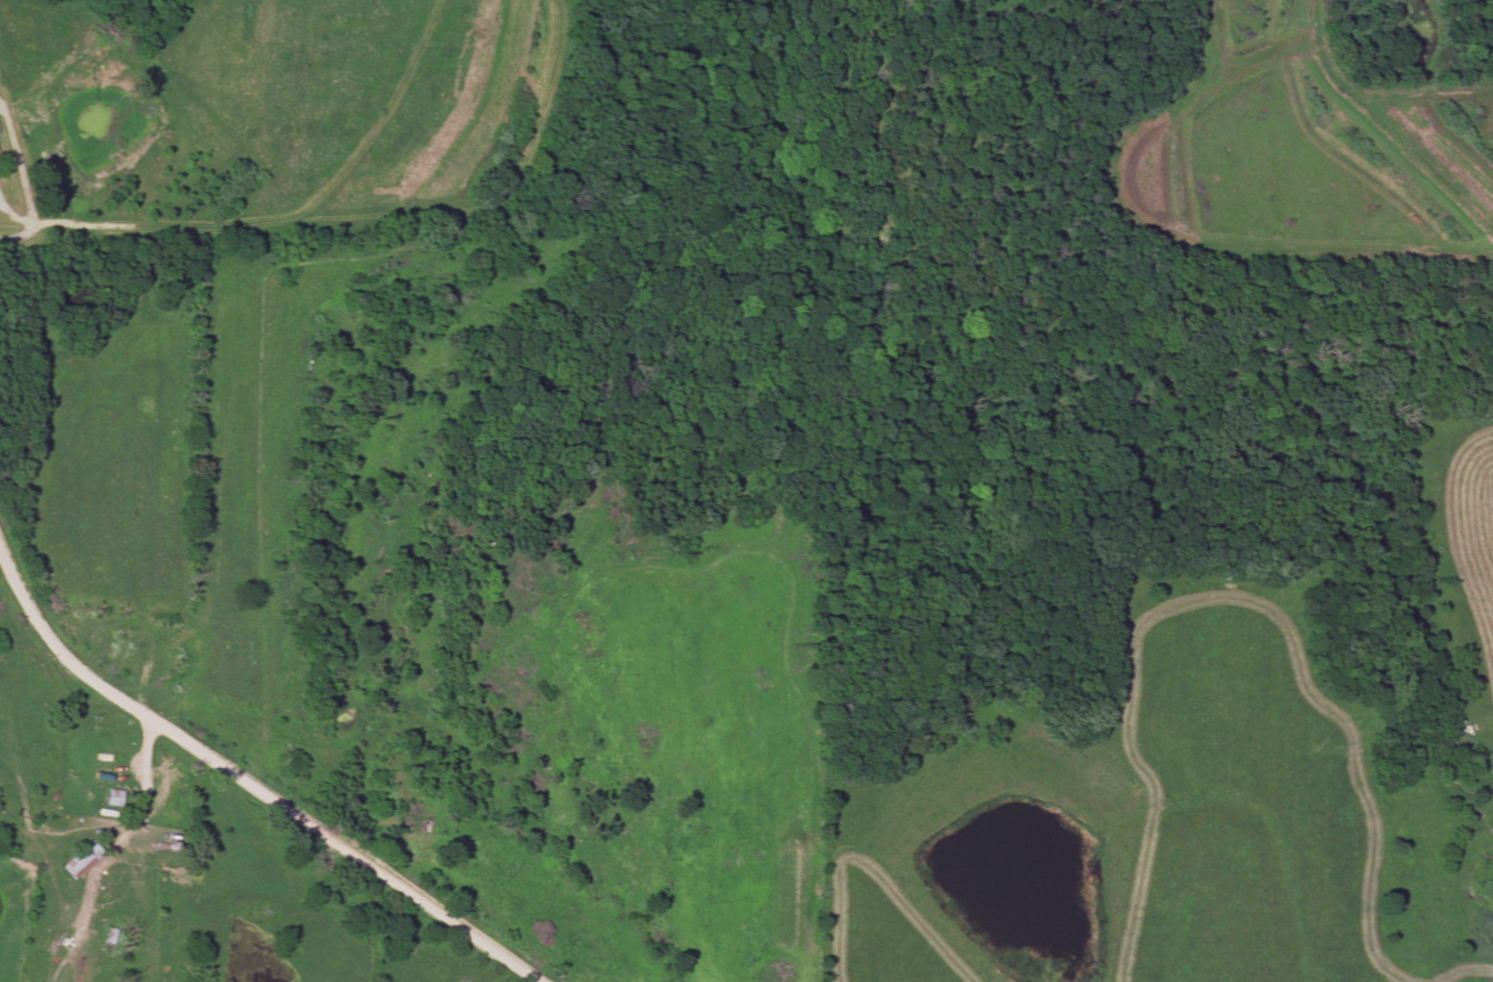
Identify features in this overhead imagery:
building: (116, 643)
road: (252, 780)
road: (146, 783)
building: (169, 793)
building: (74, 862)
road: (109, 899)

